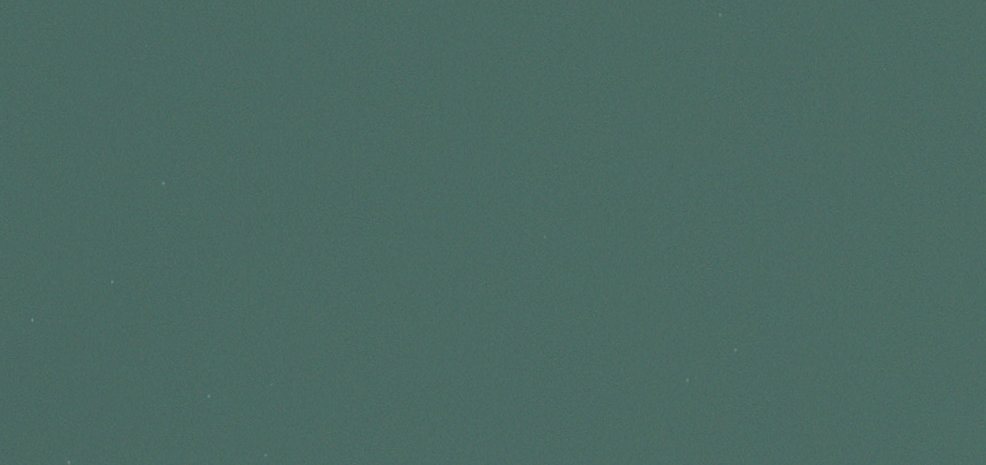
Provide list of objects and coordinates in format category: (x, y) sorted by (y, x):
wastewater plant: (493, 232)

